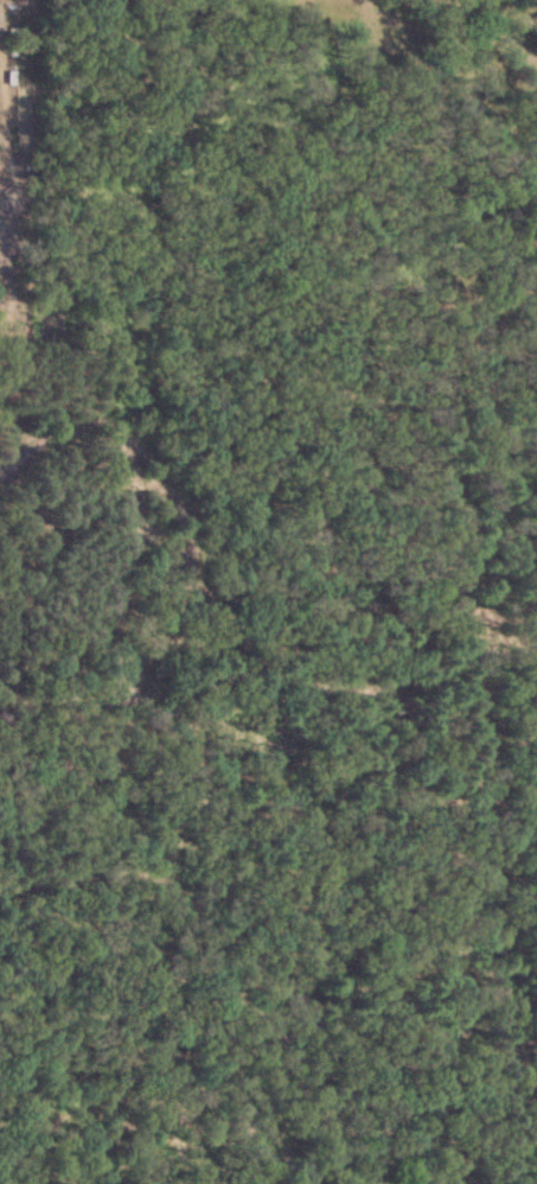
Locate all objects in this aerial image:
building: (0, 30)

